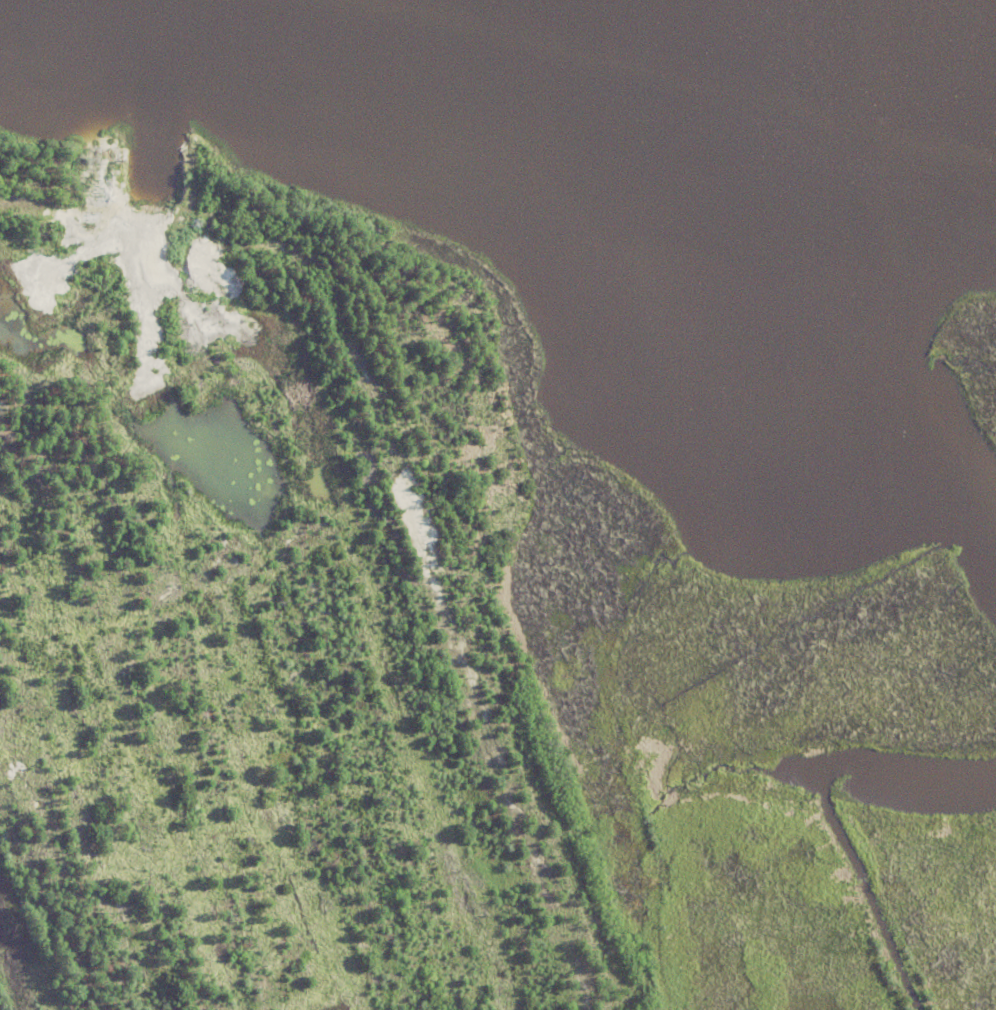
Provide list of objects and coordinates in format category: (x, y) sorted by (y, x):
river: (777, 74)

